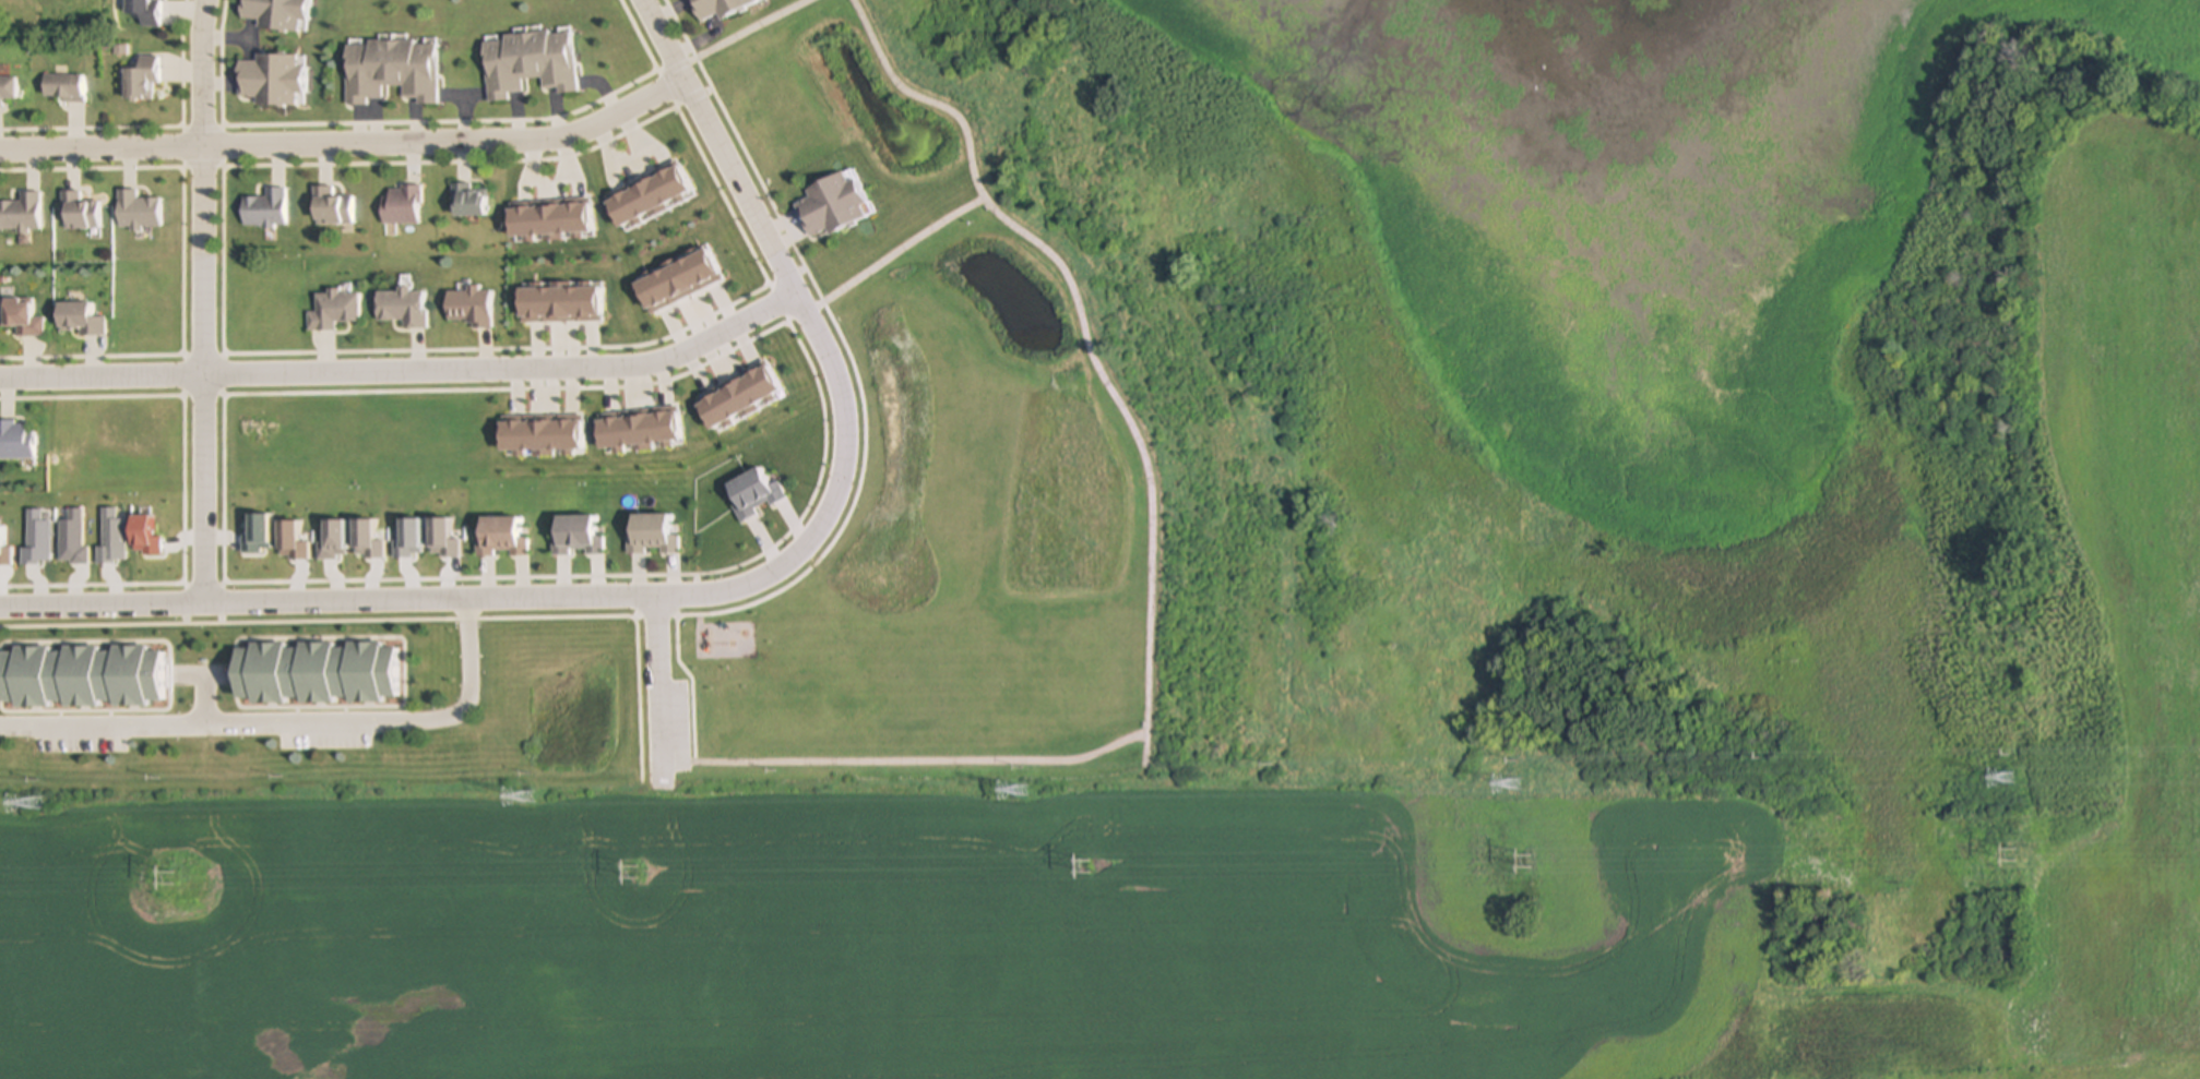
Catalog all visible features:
building: (714, 8)
building: (140, 10)
building: (274, 13)
road: (683, 28)
road: (754, 28)
road: (227, 38)
road: (178, 60)
building: (527, 62)
building: (391, 70)
building: (140, 79)
building: (271, 80)
building: (62, 87)
road: (665, 88)
building: (8, 89)
road: (462, 119)
road: (463, 119)
road: (90, 125)
road: (347, 144)
road: (179, 145)
road: (203, 167)
building: (468, 200)
building: (401, 205)
building: (830, 205)
building: (331, 207)
building: (264, 208)
building: (136, 211)
building: (79, 212)
building: (21, 213)
road: (904, 249)
road: (180, 260)
road: (728, 293)
road: (205, 300)
road: (800, 303)
building: (401, 307)
building: (467, 307)
building: (332, 310)
road: (786, 313)
building: (20, 317)
building: (78, 319)
road: (405, 372)
building: (14, 440)
park: (1127, 444)
road: (177, 482)
building: (753, 491)
building: (652, 533)
building: (576, 535)
building: (501, 537)
road: (1152, 540)
road: (369, 599)
building: (314, 673)
building: (80, 676)
road: (663, 680)
building: (649, 706)
road: (289, 719)
road: (692, 757)
power tower: (2010, 778)
power tower: (1514, 786)
power tower: (1022, 791)
power tower: (528, 798)
power tower: (37, 804)
power tower: (2017, 856)
power tower: (1531, 862)
power tower: (1089, 866)
crop: (1241, 871)
power tower: (635, 873)
power tower: (174, 879)

